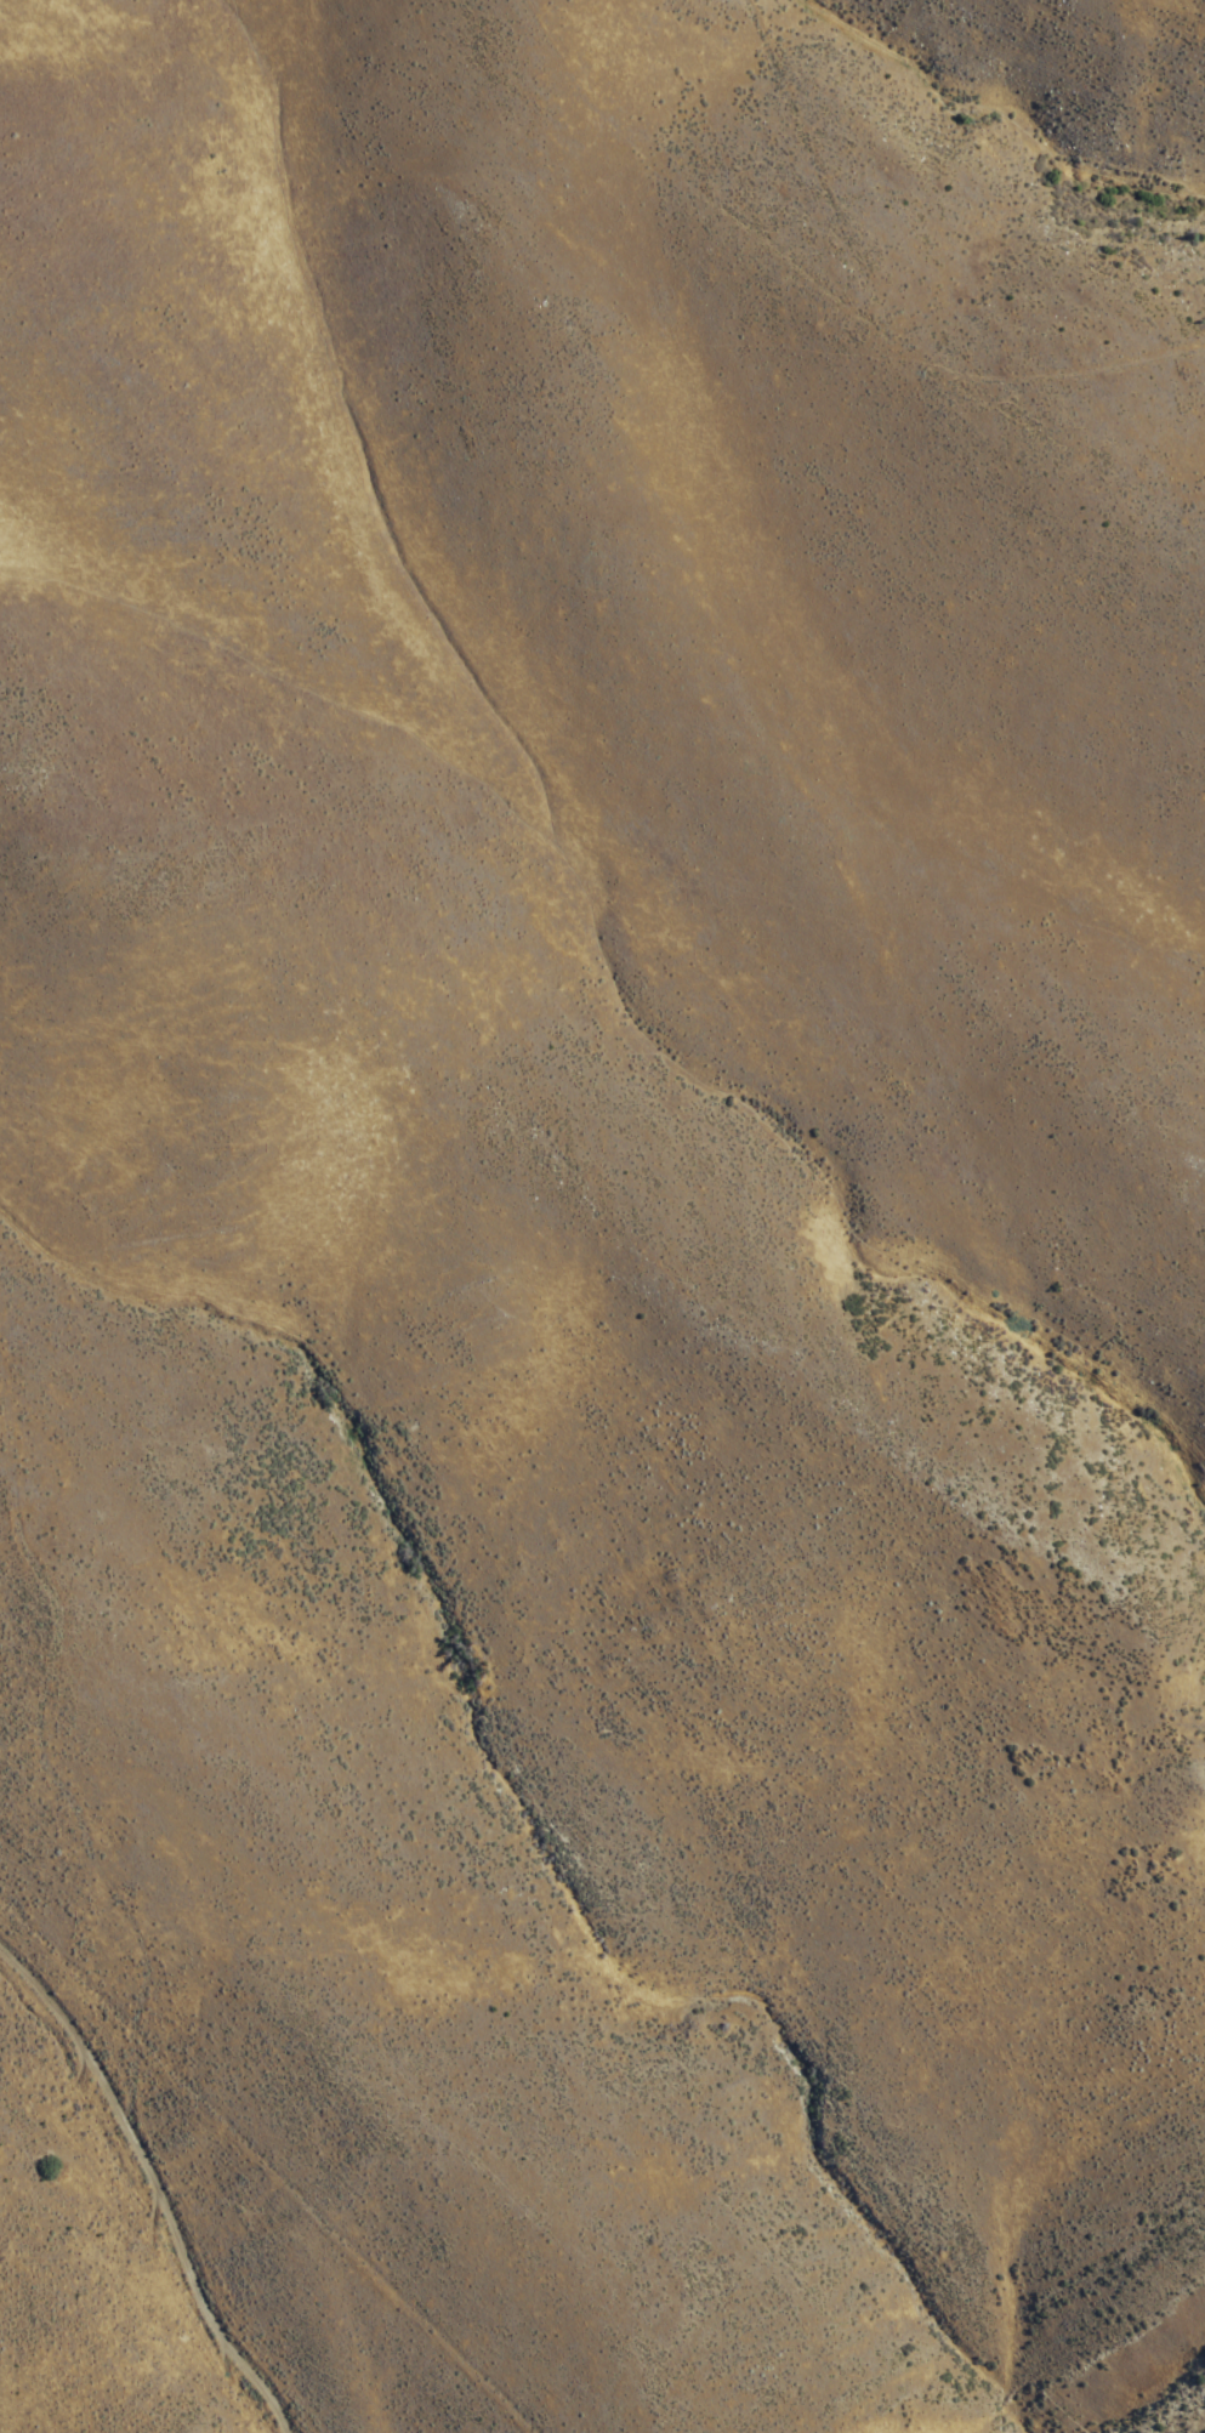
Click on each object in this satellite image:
road: (154, 2183)

